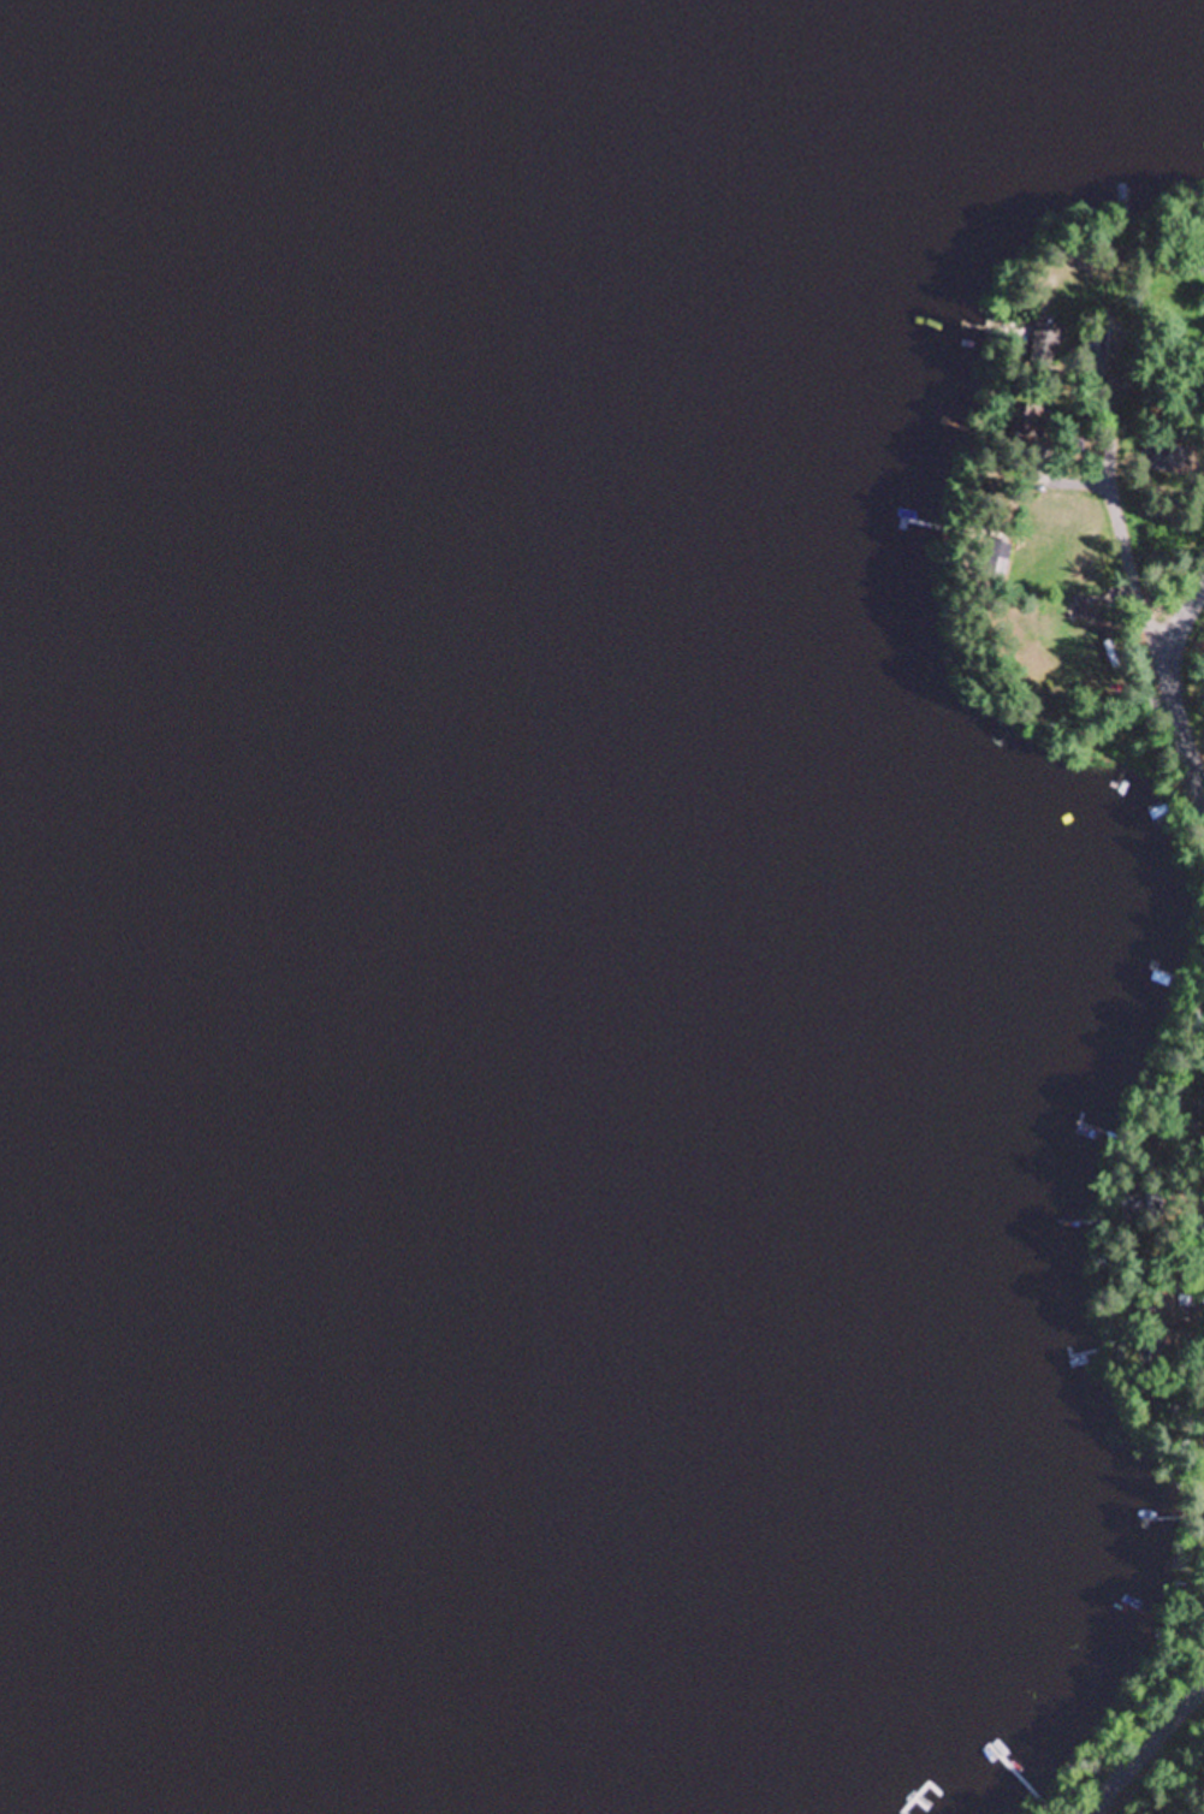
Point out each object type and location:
building: (1025, 421)
building: (1169, 458)
building: (1158, 505)
road: (1116, 544)
road: (1172, 695)
road: (1141, 1751)

